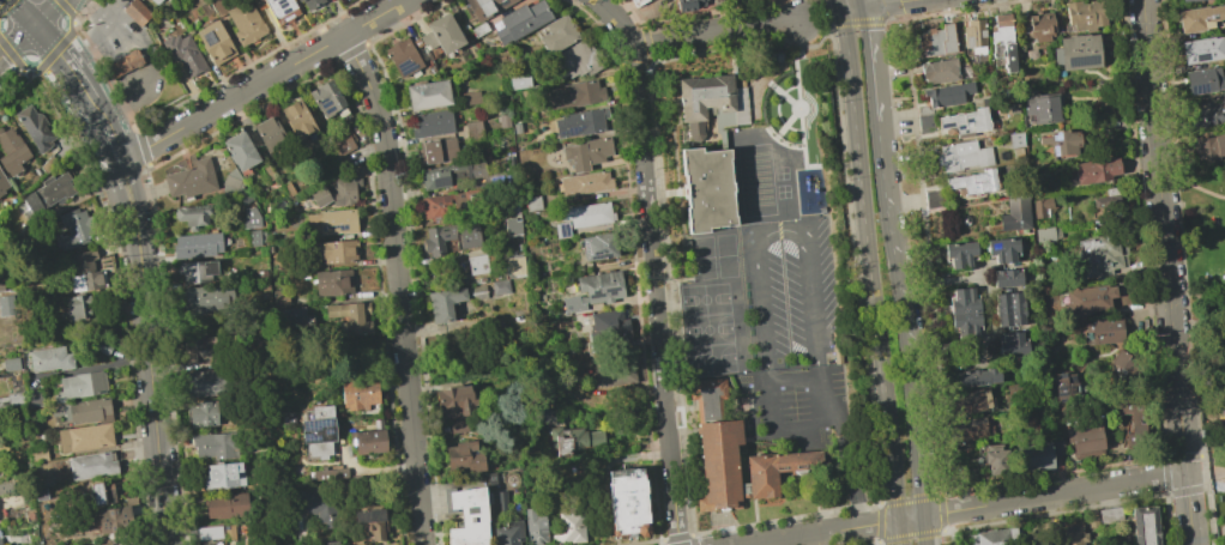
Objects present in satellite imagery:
rooftop solar panel: (280, 0)
building: (297, 0)
building: (1184, 0)
building: (155, 1)
building: (310, 4)
building: (690, 4)
road: (862, 4)
road: (887, 4)
road: (839, 6)
building: (485, 7)
building: (278, 8)
rooftop solar panel: (283, 8)
traffic signals: (864, 8)
road: (852, 10)
road: (22, 12)
road: (46, 12)
traffic signals: (841, 12)
building: (138, 13)
building: (1085, 14)
building: (1199, 18)
building: (245, 22)
building: (520, 22)
traffic signals: (34, 25)
building: (1039, 26)
building: (478, 30)
road: (717, 32)
building: (441, 34)
building: (557, 34)
building: (973, 36)
building: (936, 41)
road: (16, 42)
road: (90, 42)
building: (215, 42)
building: (1002, 43)
building: (1201, 49)
building: (1076, 52)
road: (125, 53)
building: (182, 53)
building: (402, 56)
building: (137, 57)
road: (64, 59)
building: (574, 60)
road: (147, 61)
road: (871, 63)
rooftop solar panel: (1084, 63)
road: (117, 65)
building: (121, 65)
rooftop solar panel: (404, 67)
building: (939, 71)
road: (262, 80)
building: (519, 80)
building: (1201, 80)
rooftop solar panel: (1200, 90)
building: (575, 93)
building: (947, 93)
building: (427, 95)
rooftop solar panel: (322, 96)
building: (469, 97)
building: (326, 99)
rooftop solar panel: (322, 102)
building: (713, 105)
rooftop solar panel: (327, 107)
building: (1042, 108)
building: (1208, 113)
building: (296, 119)
building: (502, 121)
building: (580, 122)
building: (964, 122)
rooftop solar panel: (968, 122)
building: (432, 123)
building: (35, 128)
building: (517, 128)
rooftop solar panel: (946, 128)
road: (103, 129)
rooftop solar panel: (960, 129)
building: (473, 131)
rooftop solar panel: (574, 131)
building: (268, 133)
building: (1014, 139)
rooftop solar panel: (1056, 139)
building: (340, 143)
building: (1060, 143)
building: (1214, 144)
building: (240, 151)
building: (436, 151)
building: (11, 152)
building: (586, 152)
rooftop solar panel: (1055, 153)
building: (962, 156)
building: (1094, 170)
road: (1157, 170)
building: (449, 174)
park: (780, 174)
building: (189, 180)
building: (584, 182)
building: (972, 182)
road: (1191, 182)
building: (2, 183)
rooftop solar panel: (442, 183)
building: (235, 186)
building: (707, 189)
building: (342, 190)
park: (783, 192)
building: (47, 193)
building: (319, 196)
building: (933, 199)
building: (1106, 201)
building: (451, 204)
building: (532, 204)
building: (1040, 207)
park: (784, 211)
building: (194, 213)
building: (585, 214)
building: (1015, 216)
building: (249, 218)
building: (331, 222)
rooftop solar panel: (334, 226)
building: (511, 226)
building: (77, 228)
building: (561, 229)
rooftop solar panel: (73, 230)
rooftop solar panel: (560, 230)
rooftop solar panel: (567, 232)
building: (1044, 235)
building: (249, 237)
building: (448, 237)
road: (761, 237)
rooftop solar panel: (586, 244)
park: (719, 244)
building: (197, 246)
building: (598, 246)
building: (1003, 249)
building: (337, 252)
rooftop solar panel: (596, 252)
building: (959, 253)
building: (1098, 254)
road: (140, 258)
building: (83, 262)
building: (476, 264)
road: (652, 266)
park: (720, 266)
building: (514, 267)
building: (195, 272)
building: (1007, 277)
road: (869, 278)
building: (86, 280)
building: (1045, 281)
building: (1, 283)
building: (332, 283)
road: (940, 283)
road: (399, 286)
building: (500, 286)
building: (599, 286)
park: (687, 291)
park: (719, 293)
building: (207, 298)
building: (1088, 299)
building: (451, 302)
building: (962, 302)
building: (573, 304)
building: (6, 305)
building: (78, 307)
park: (689, 309)
building: (1009, 309)
road: (1195, 313)
building: (349, 316)
park: (1207, 316)
road: (900, 317)
building: (965, 325)
building: (609, 327)
park: (722, 327)
park: (689, 328)
building: (1104, 331)
parking lot: (798, 332)
road: (1200, 334)
building: (1013, 344)
building: (103, 346)
road: (793, 347)
building: (837, 349)
building: (194, 350)
road: (992, 355)
park: (717, 358)
building: (49, 359)
building: (1126, 363)
building: (10, 364)
road: (1176, 373)
building: (609, 374)
building: (977, 377)
road: (793, 379)
building: (203, 383)
building: (1066, 384)
building: (79, 386)
building: (358, 394)
building: (11, 400)
building: (967, 400)
building: (453, 401)
building: (84, 411)
building: (200, 413)
rooftop solar panel: (304, 422)
rooftop solar panel: (316, 422)
building: (1133, 423)
road: (1217, 425)
building: (457, 426)
building: (970, 428)
rooftop solar panel: (325, 429)
building: (316, 430)
rooftop solar panel: (304, 431)
rooftop solar panel: (313, 436)
building: (84, 437)
building: (1082, 438)
building: (366, 441)
building: (578, 441)
road: (1209, 441)
building: (215, 446)
road: (157, 450)
building: (738, 453)
building: (1036, 455)
building: (463, 456)
road: (1194, 456)
building: (995, 459)
building: (91, 466)
building: (327, 473)
road: (1185, 473)
building: (222, 474)
road: (850, 474)
road: (1051, 476)
road: (1165, 477)
building: (6, 488)
building: (101, 492)
building: (495, 493)
road: (1052, 493)
road: (909, 498)
building: (626, 501)
building: (224, 505)
rooftop solar panel: (110, 510)
rooftop solar panel: (114, 511)
road: (941, 513)
road: (1054, 513)
rooftop solar panel: (369, 514)
building: (316, 515)
building: (1109, 516)
building: (467, 517)
building: (111, 519)
building: (1092, 519)
road: (1166, 520)
road: (877, 522)
rooftop solar panel: (104, 523)
building: (369, 523)
rooftop solar panel: (225, 526)
building: (1143, 526)
rooftop solar panel: (107, 527)
building: (569, 527)
building: (533, 528)
road: (837, 529)
road: (923, 529)
building: (227, 532)
building: (207, 533)
building: (508, 534)
building: (1073, 535)
road: (909, 537)
building: (991, 537)
road: (949, 538)
road: (817, 539)
building: (322, 543)
building: (0, 544)

